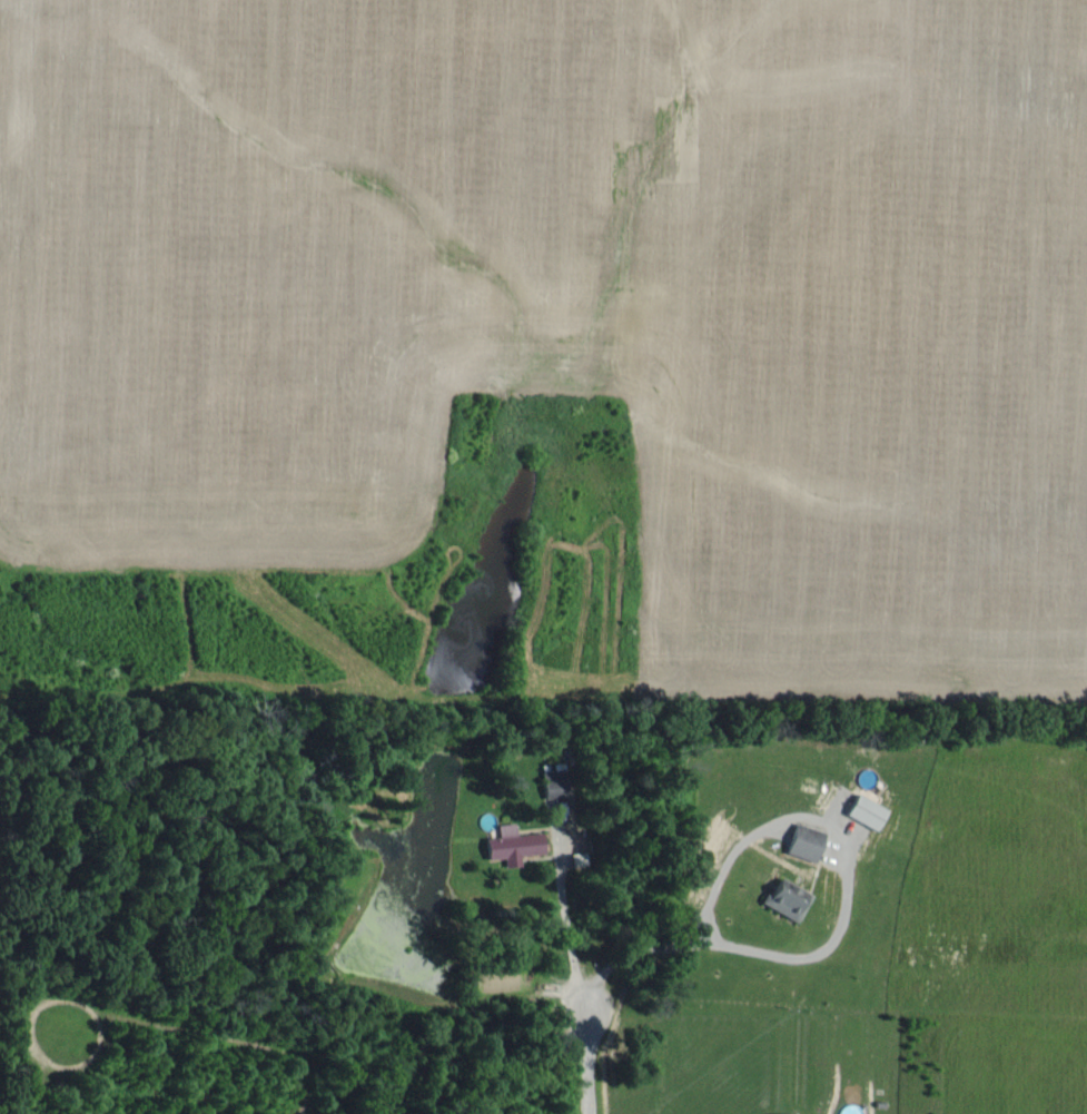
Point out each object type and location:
building: (553, 782)
building: (863, 810)
road: (789, 814)
building: (802, 841)
building: (511, 845)
building: (784, 898)
road: (563, 928)
road: (584, 1063)
building: (848, 1108)
building: (788, 1113)

